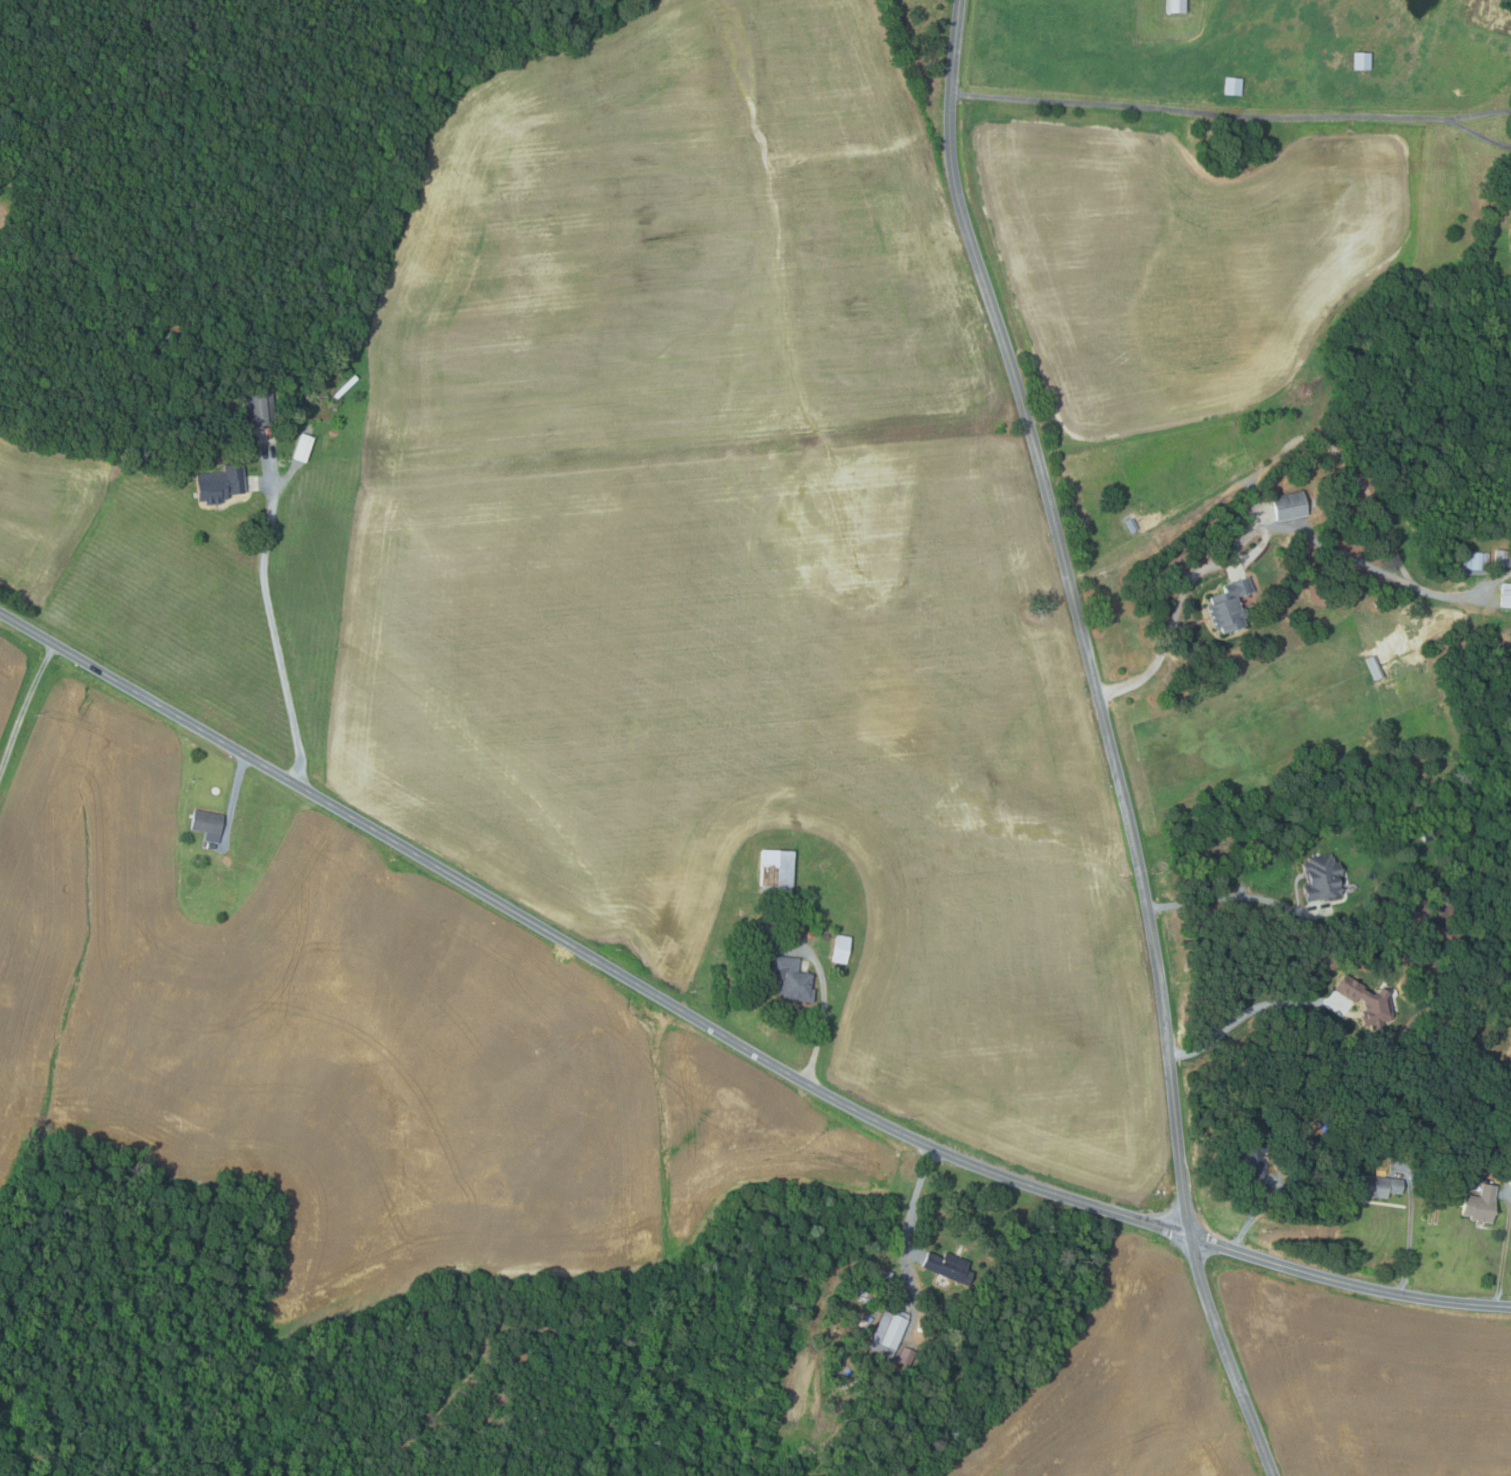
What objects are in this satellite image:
building: (1177, 5)
building: (1363, 59)
building: (1235, 85)
road: (1201, 112)
road: (1481, 113)
road: (1480, 135)
crop: (4, 206)
building: (1510, 230)
crop: (679, 257)
crop: (1173, 258)
building: (260, 408)
building: (204, 428)
building: (304, 446)
building: (221, 483)
building: (1291, 505)
crop: (43, 515)
building: (1133, 525)
road: (1247, 533)
building: (1503, 557)
building: (1477, 560)
building: (1506, 595)
building: (1230, 604)
road: (276, 624)
building: (1376, 667)
road: (25, 712)
road: (1109, 737)
crop: (782, 755)
road: (234, 799)
building: (208, 824)
building: (1430, 836)
building: (205, 843)
building: (211, 845)
building: (778, 871)
building: (1323, 877)
road: (1234, 895)
building: (831, 901)
building: (842, 949)
building: (723, 958)
building: (792, 979)
road: (825, 1002)
building: (1369, 1002)
road: (1243, 1013)
road: (724, 1035)
building: (1323, 1120)
building: (1317, 1145)
building: (1490, 1149)
building: (1254, 1158)
building: (1507, 1168)
building: (1378, 1185)
building: (1482, 1204)
road: (1250, 1216)
road: (905, 1225)
road: (1410, 1238)
road: (1504, 1249)
building: (949, 1267)
building: (885, 1278)
building: (866, 1322)
building: (889, 1334)
building: (907, 1356)
crop: (1370, 1379)
crop: (1122, 1385)

